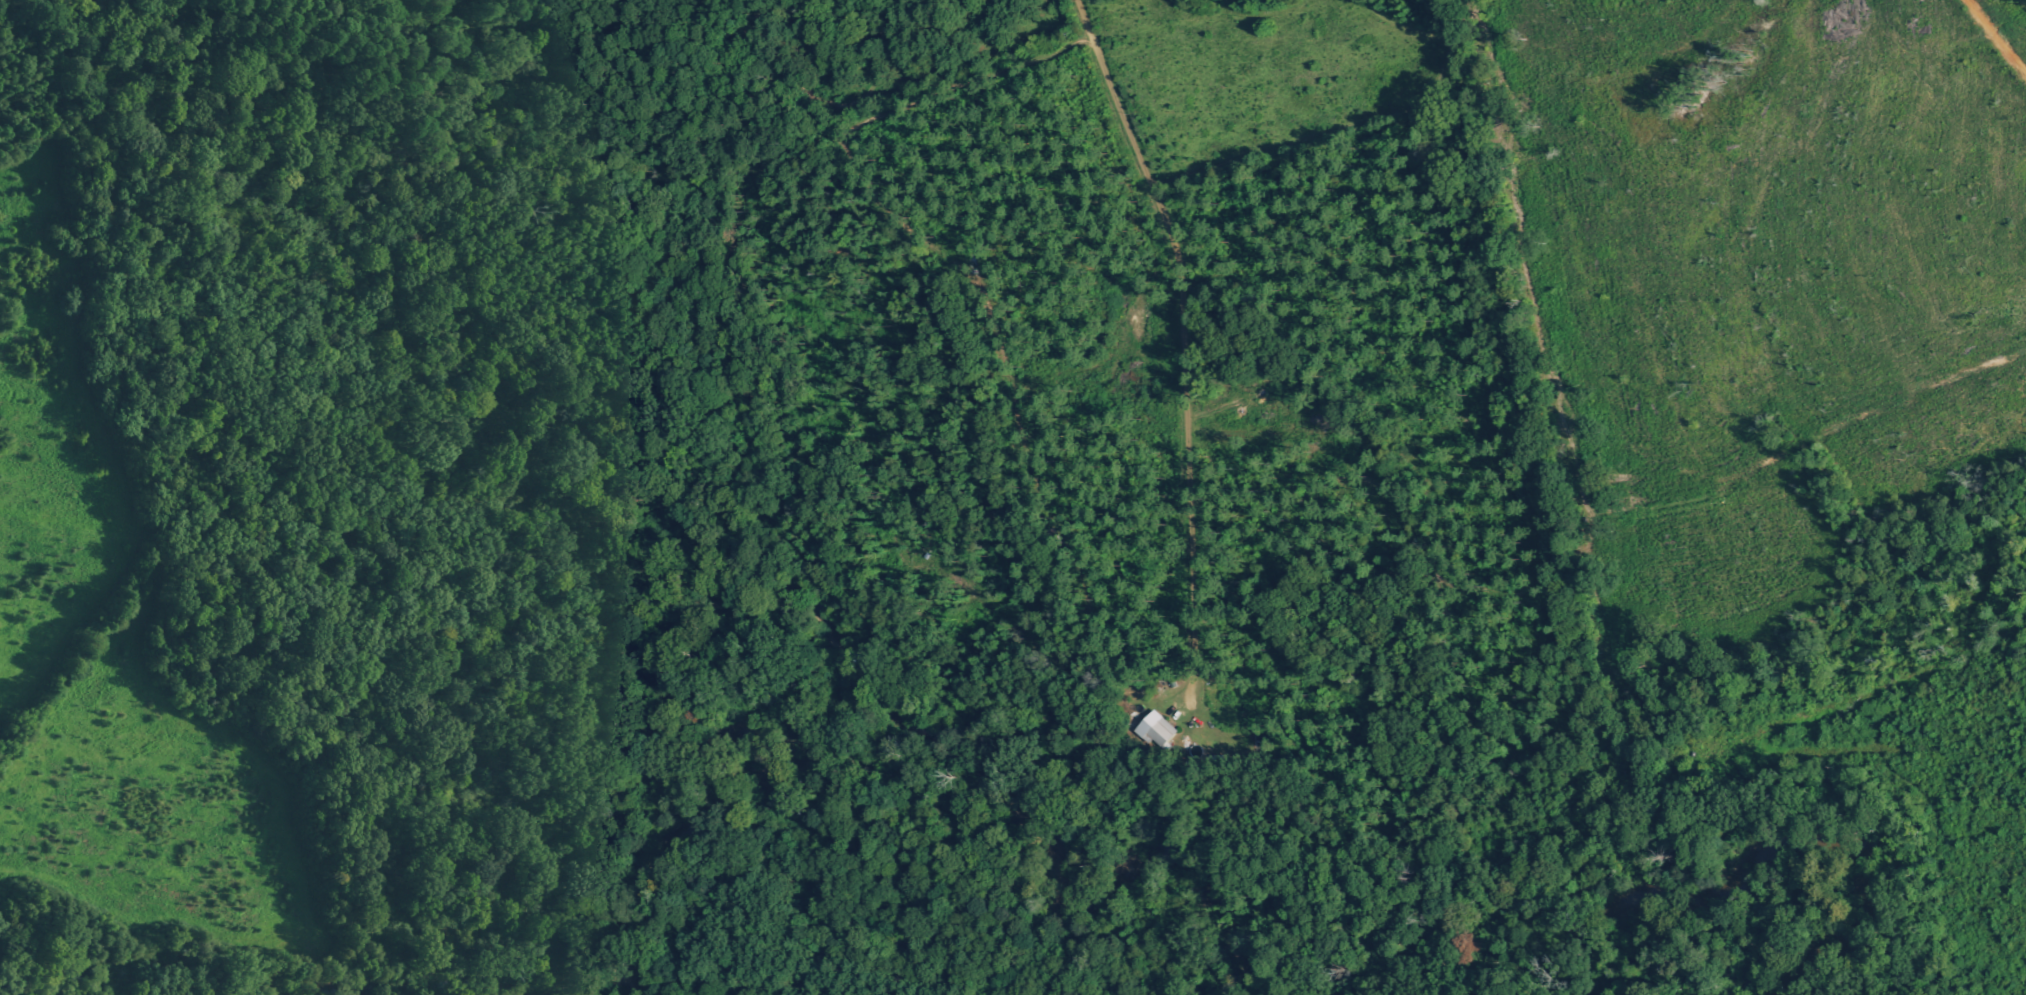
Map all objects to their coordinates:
road: (1185, 335)
building: (1155, 731)

